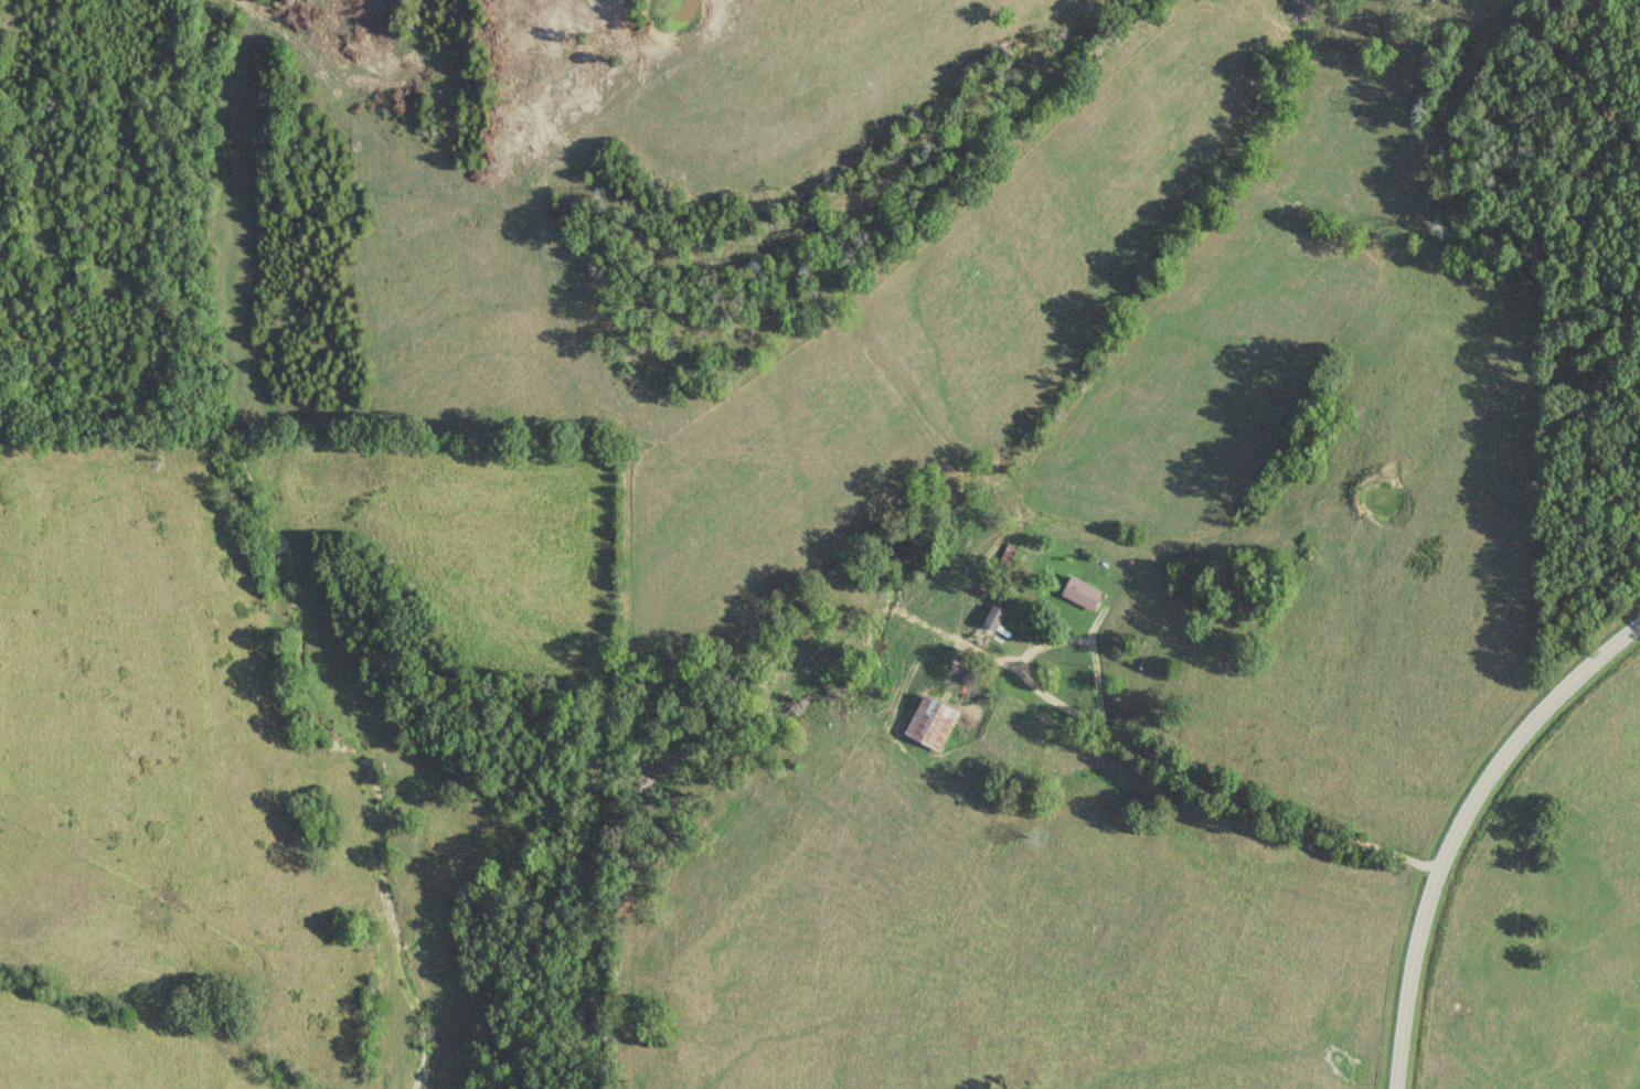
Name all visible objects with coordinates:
building: (1084, 592)
building: (997, 616)
building: (933, 722)
road: (1201, 779)
road: (1463, 832)

